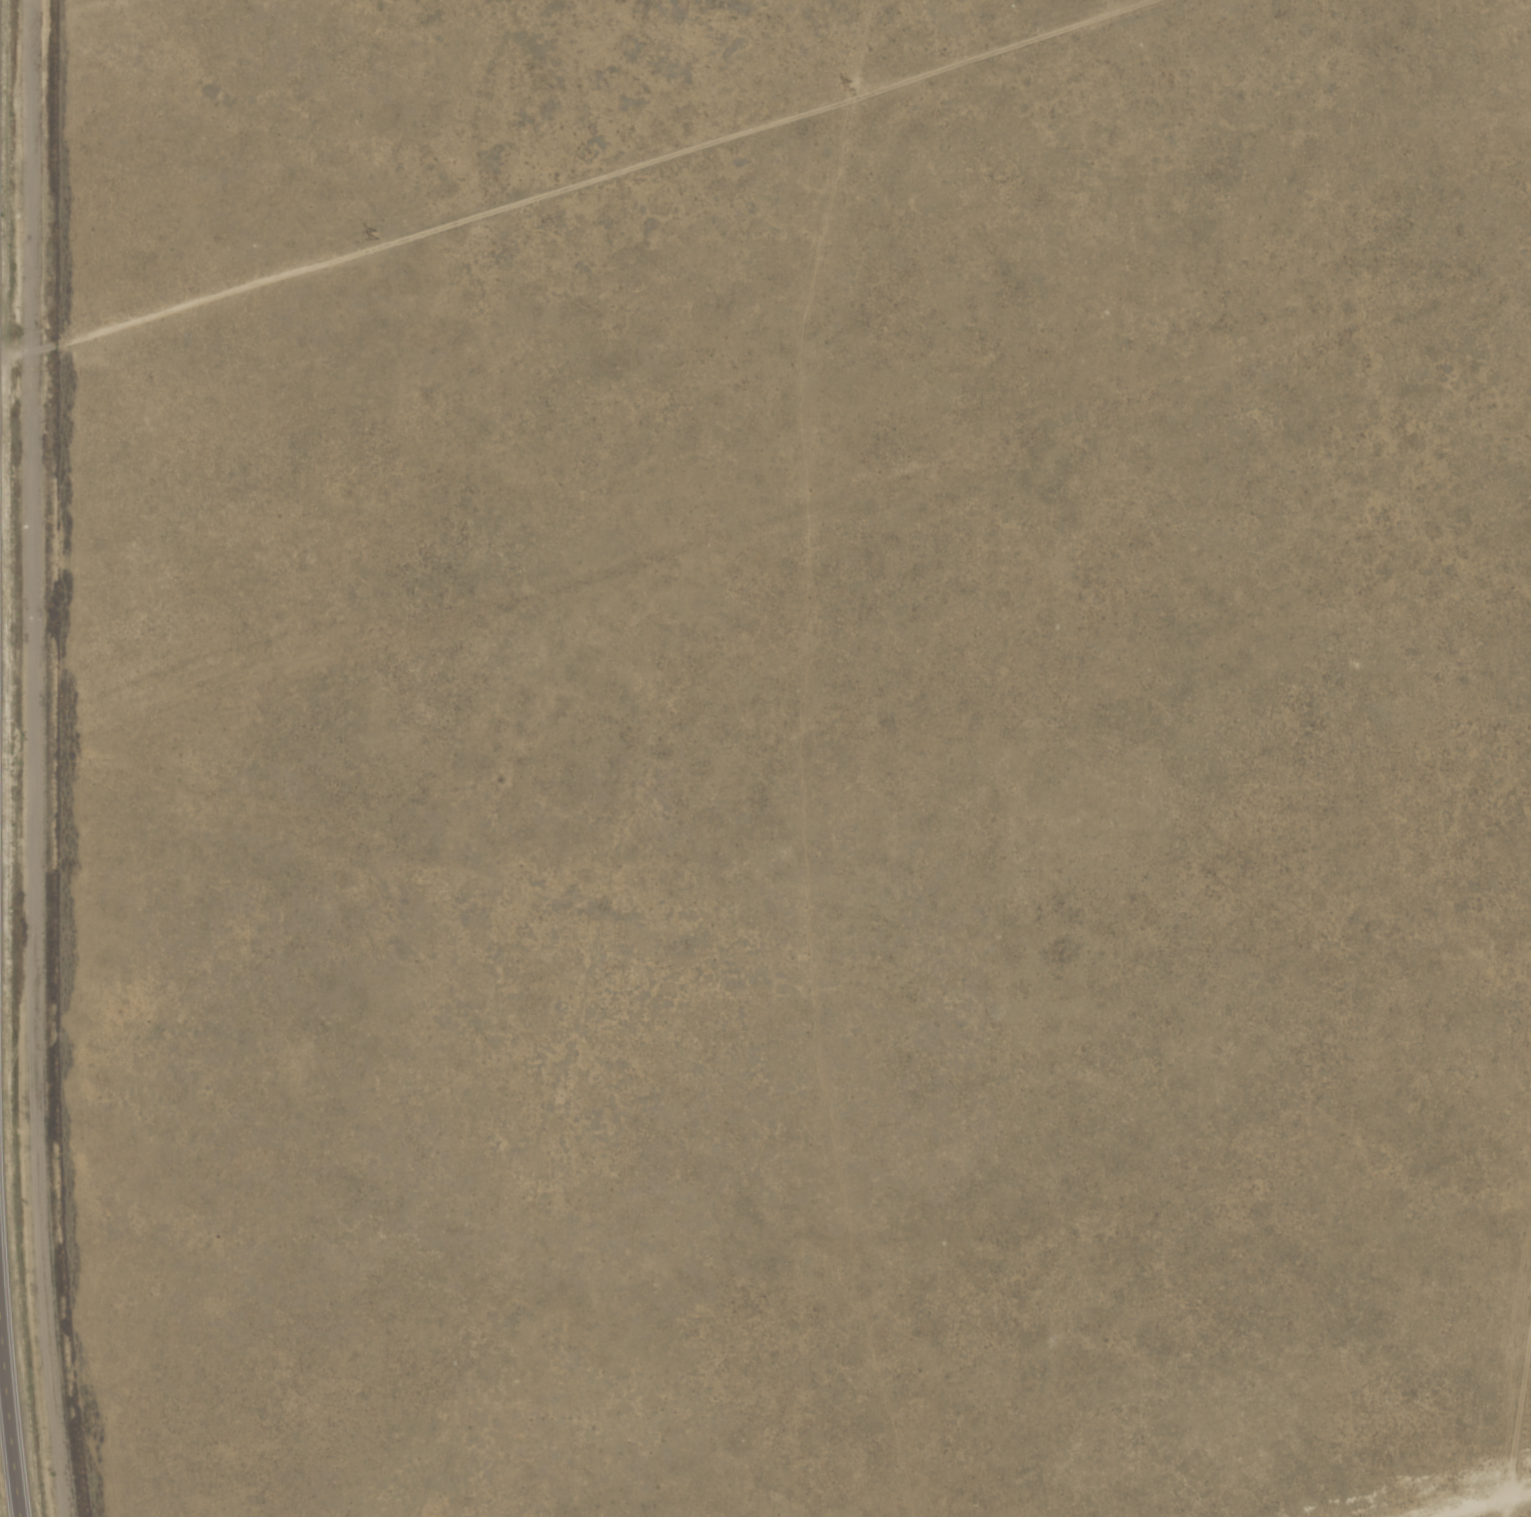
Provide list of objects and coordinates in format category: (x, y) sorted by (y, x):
power tower: (853, 85)
power tower: (375, 235)
road: (6, 1462)
road: (1469, 1500)

